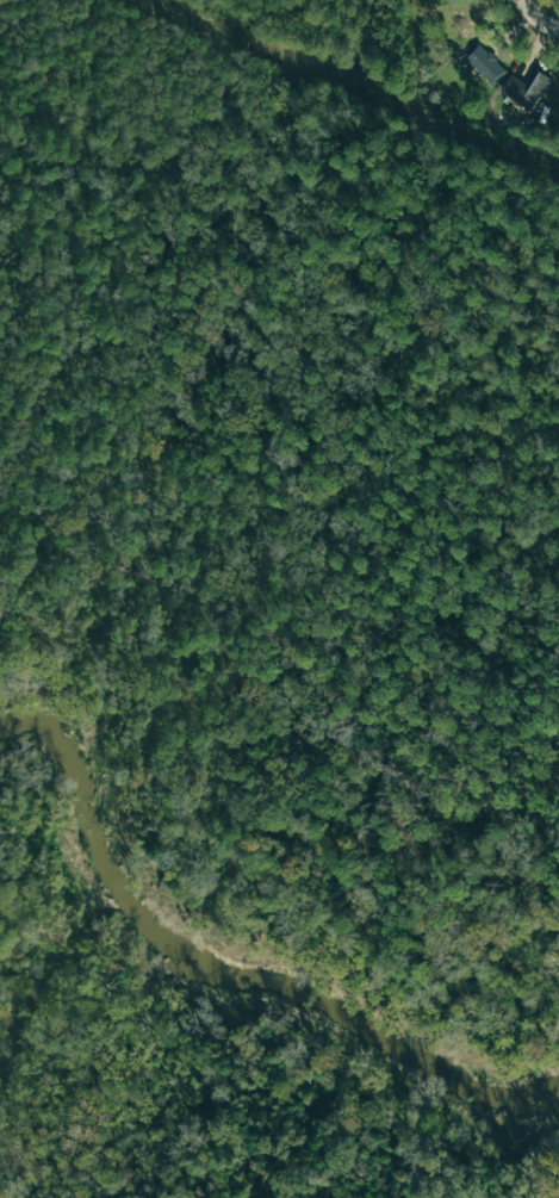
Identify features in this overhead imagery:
road: (538, 20)
building: (485, 64)
building: (558, 75)
building: (526, 88)
park: (489, 665)
river: (229, 963)

